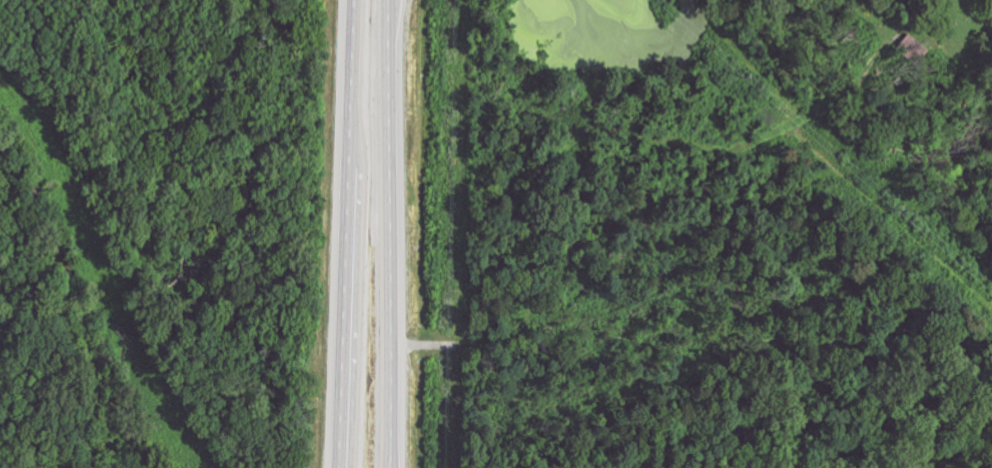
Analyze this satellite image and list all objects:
road: (390, 233)
road: (347, 234)

